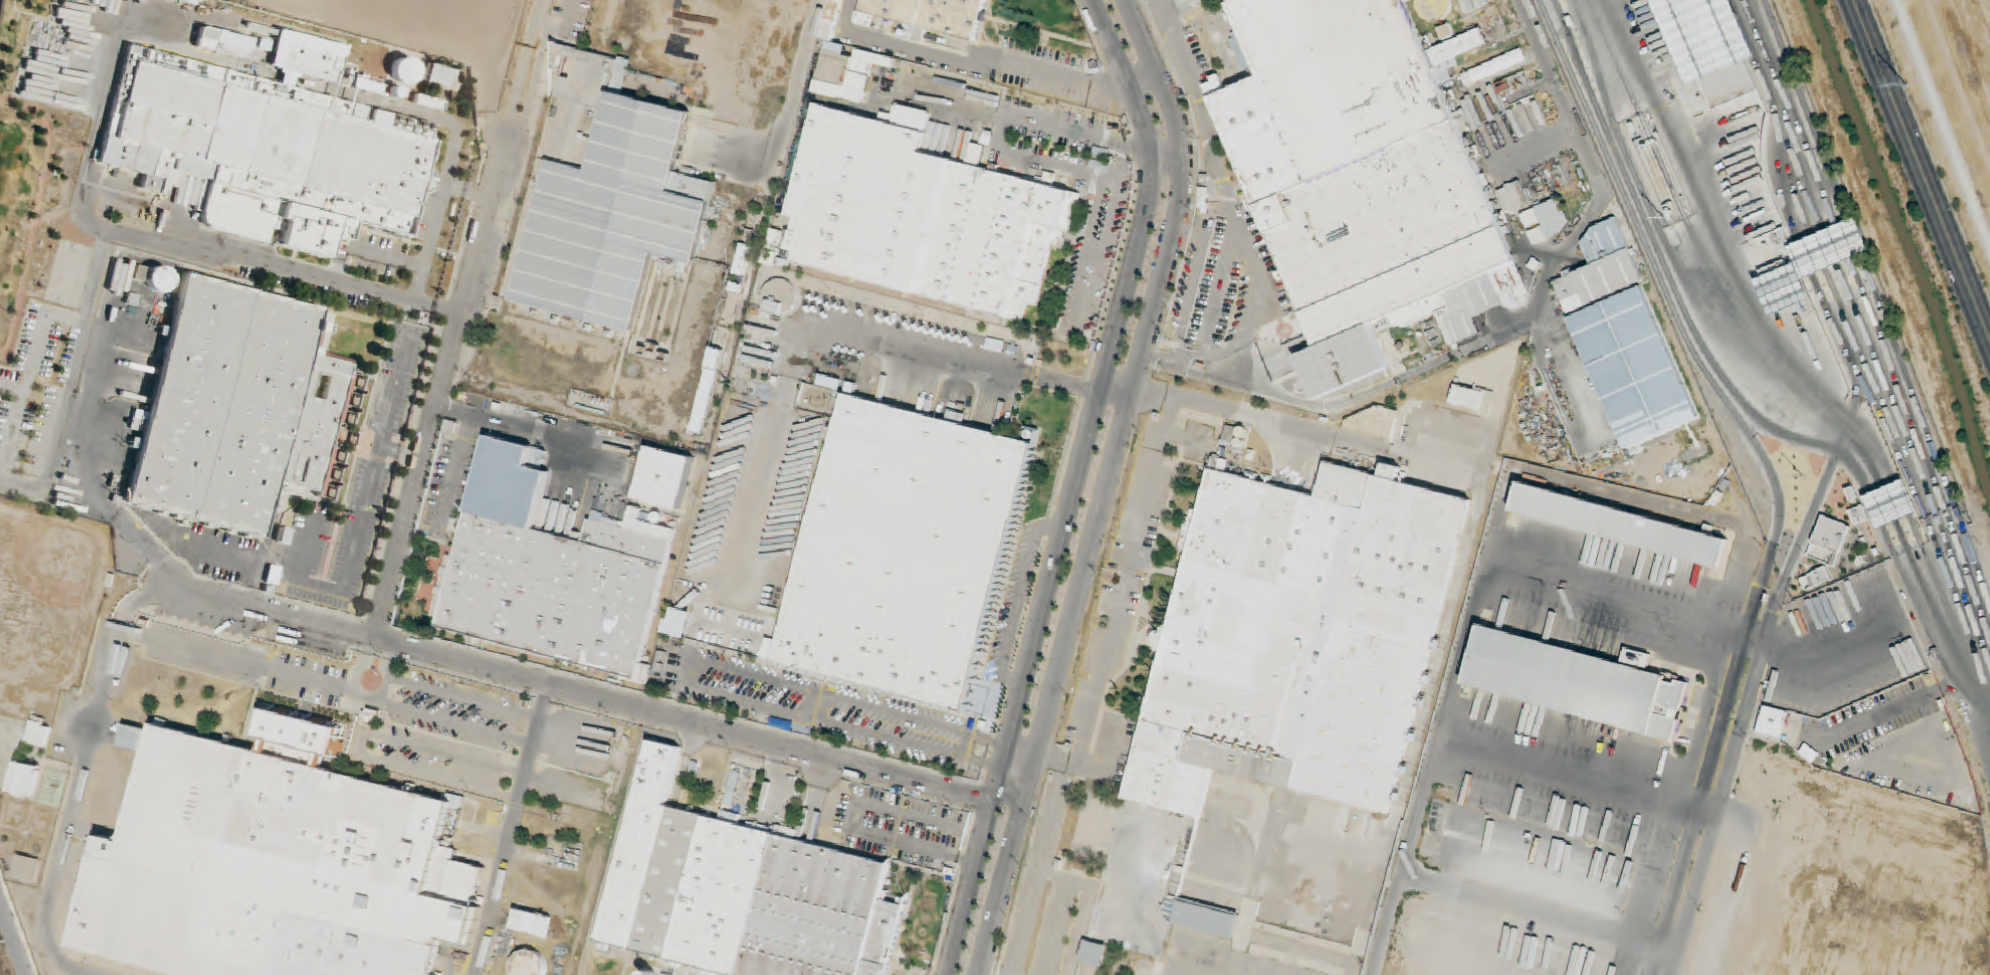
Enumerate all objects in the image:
road: (1582, 30)
road: (1595, 30)
road: (1611, 31)
building: (1676, 32)
building: (1473, 60)
power tower: (1907, 84)
road: (1601, 100)
road: (1949, 105)
road: (1804, 109)
road: (1792, 111)
road: (1787, 125)
road: (1602, 128)
road: (1784, 145)
building: (1357, 163)
road: (1919, 175)
road: (1780, 178)
road: (1716, 223)
road: (1854, 235)
road: (1844, 239)
road: (1834, 244)
building: (1831, 245)
road: (1821, 249)
road: (1811, 253)
road: (1665, 259)
road: (1657, 263)
building: (1603, 276)
road: (1659, 280)
building: (1783, 284)
road: (1670, 285)
road: (1862, 307)
road: (1529, 313)
road: (1885, 314)
road: (1876, 317)
road: (1853, 327)
road: (1737, 332)
road: (1855, 361)
building: (1468, 400)
road: (1753, 417)
road: (1883, 418)
road: (1736, 420)
road: (1892, 428)
road: (1867, 457)
road: (1908, 493)
road: (1900, 496)
building: (1889, 501)
road: (1885, 502)
road: (1874, 507)
building: (1621, 523)
road: (1546, 582)
road: (1952, 599)
road: (1948, 616)
road: (1940, 625)
building: (1307, 630)
road: (1932, 631)
road: (1831, 649)
building: (1576, 685)
road: (1895, 709)
road: (1748, 712)
road: (1920, 738)
building: (1809, 756)
road: (1709, 760)

